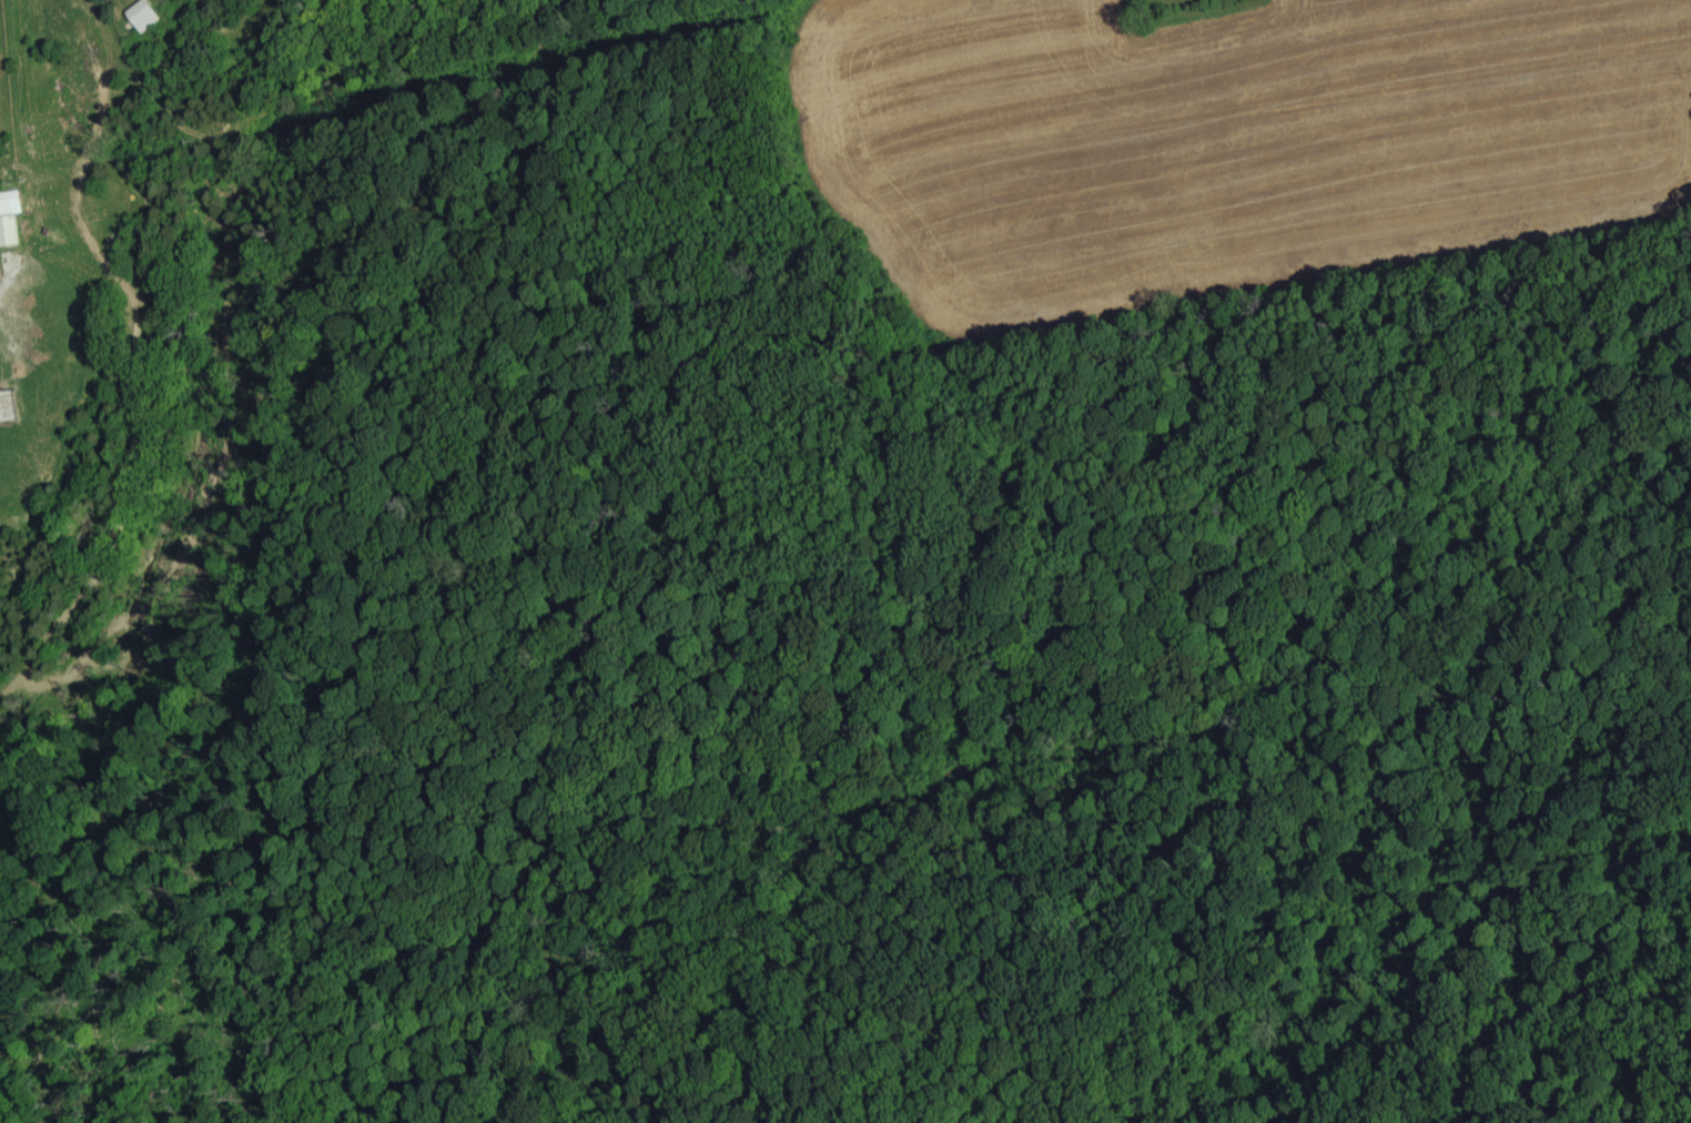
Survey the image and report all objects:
building: (140, 17)
building: (7, 221)
building: (6, 406)

